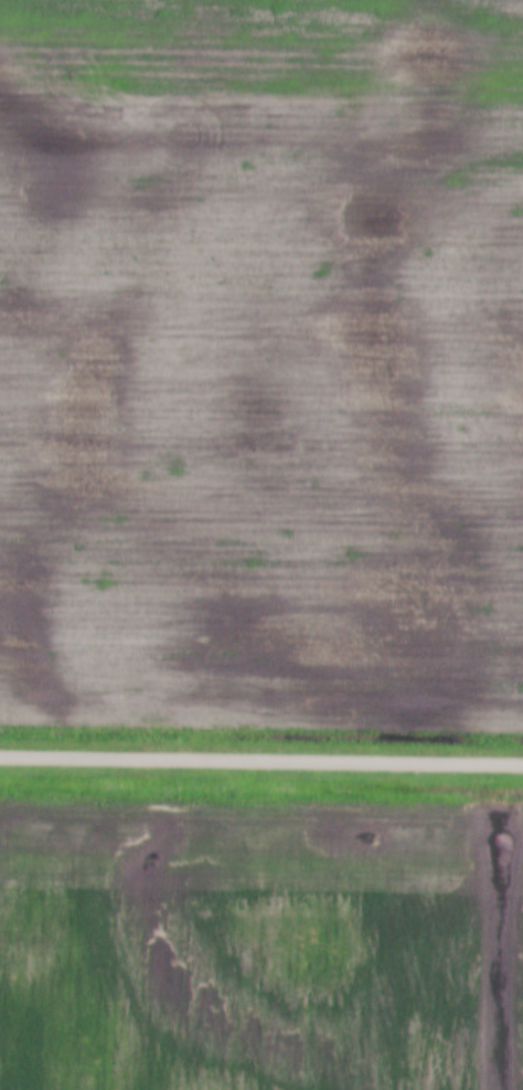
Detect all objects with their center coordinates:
road: (261, 764)

